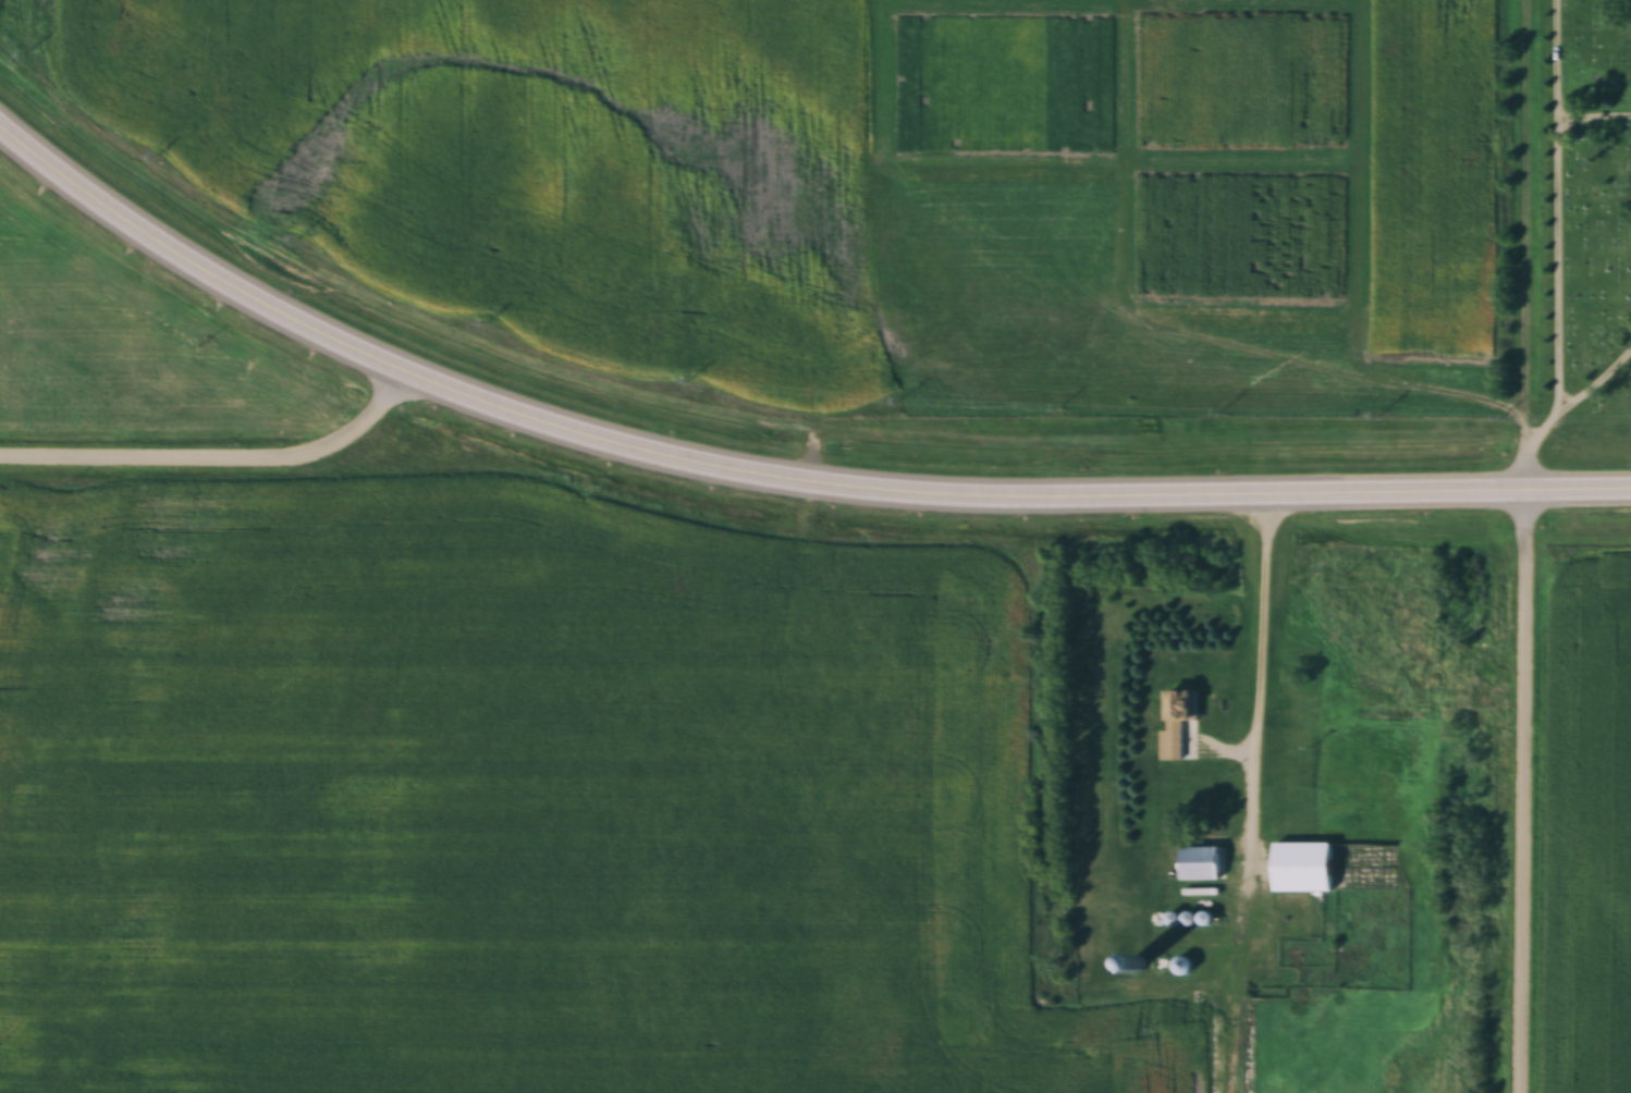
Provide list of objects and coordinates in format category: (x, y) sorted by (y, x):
road: (220, 458)
road: (772, 486)
road: (1524, 545)
road: (1261, 685)
building: (1177, 723)
building: (1200, 863)
building: (1303, 867)

